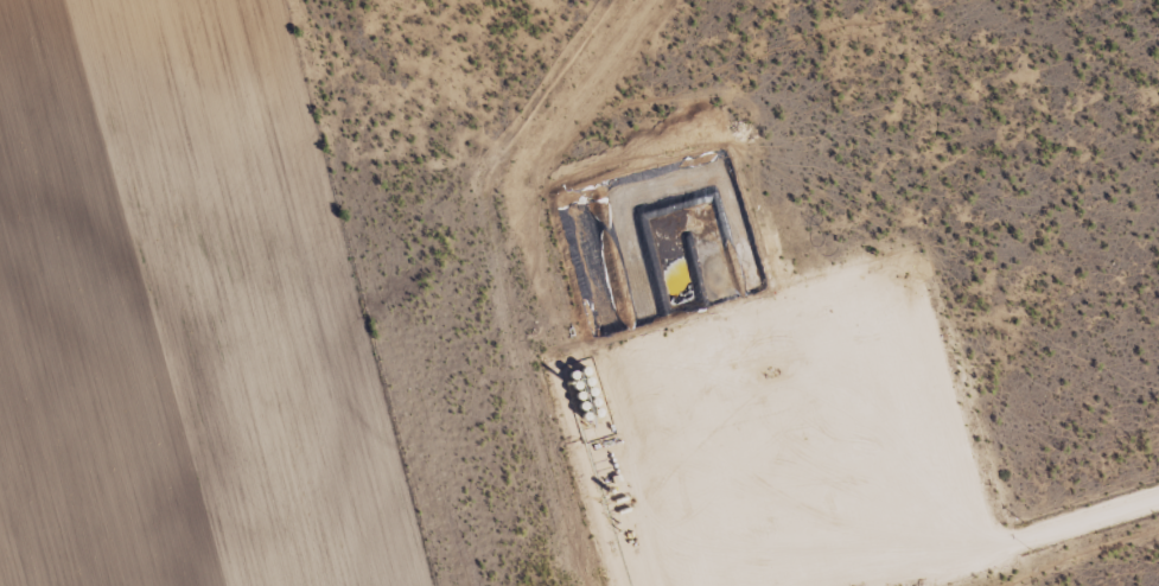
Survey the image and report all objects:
road: (1059, 527)

